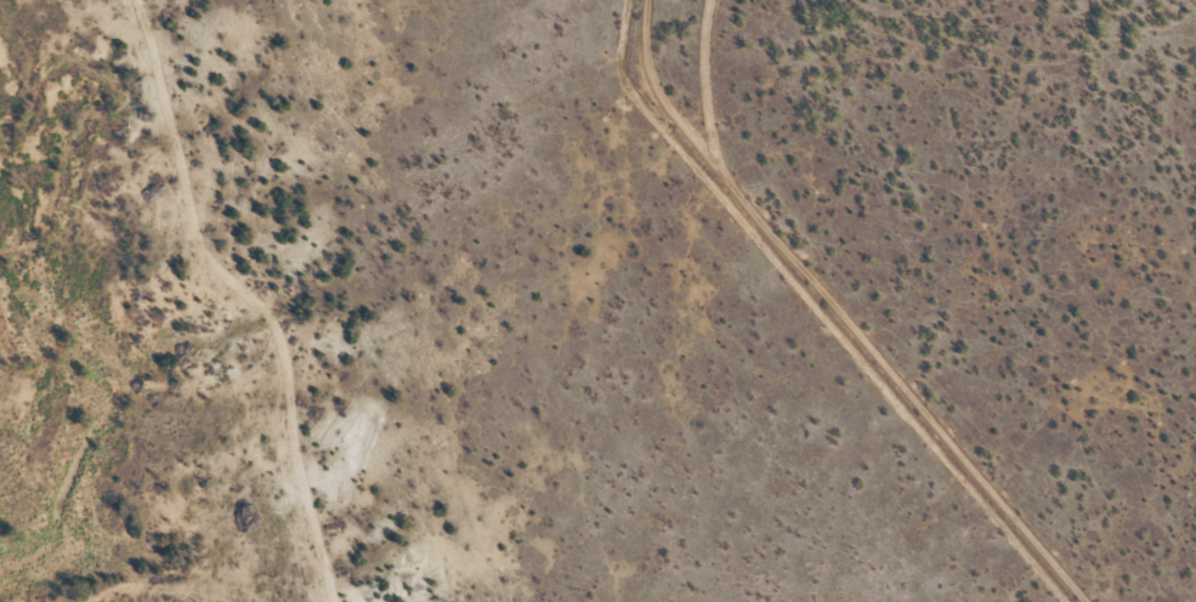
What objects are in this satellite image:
road: (814, 314)

